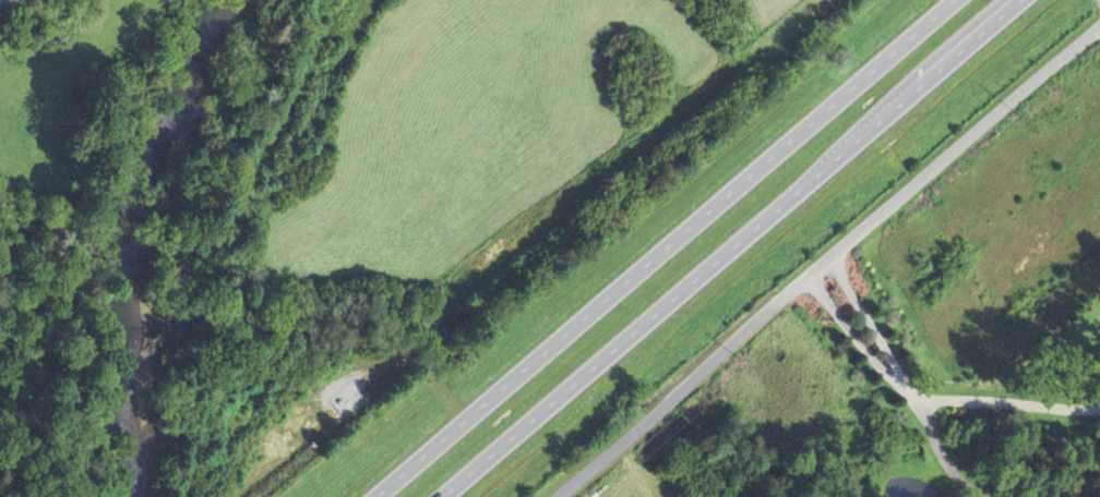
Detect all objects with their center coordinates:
power tower: (1016, 109)
road: (938, 163)
river: (154, 235)
road: (661, 247)
road: (726, 248)
road: (841, 277)
road: (821, 294)
road: (880, 339)
road: (865, 350)
power tower: (740, 359)
road: (908, 390)
road: (665, 398)
road: (1009, 401)
road: (920, 411)
road: (934, 441)
road: (959, 477)

